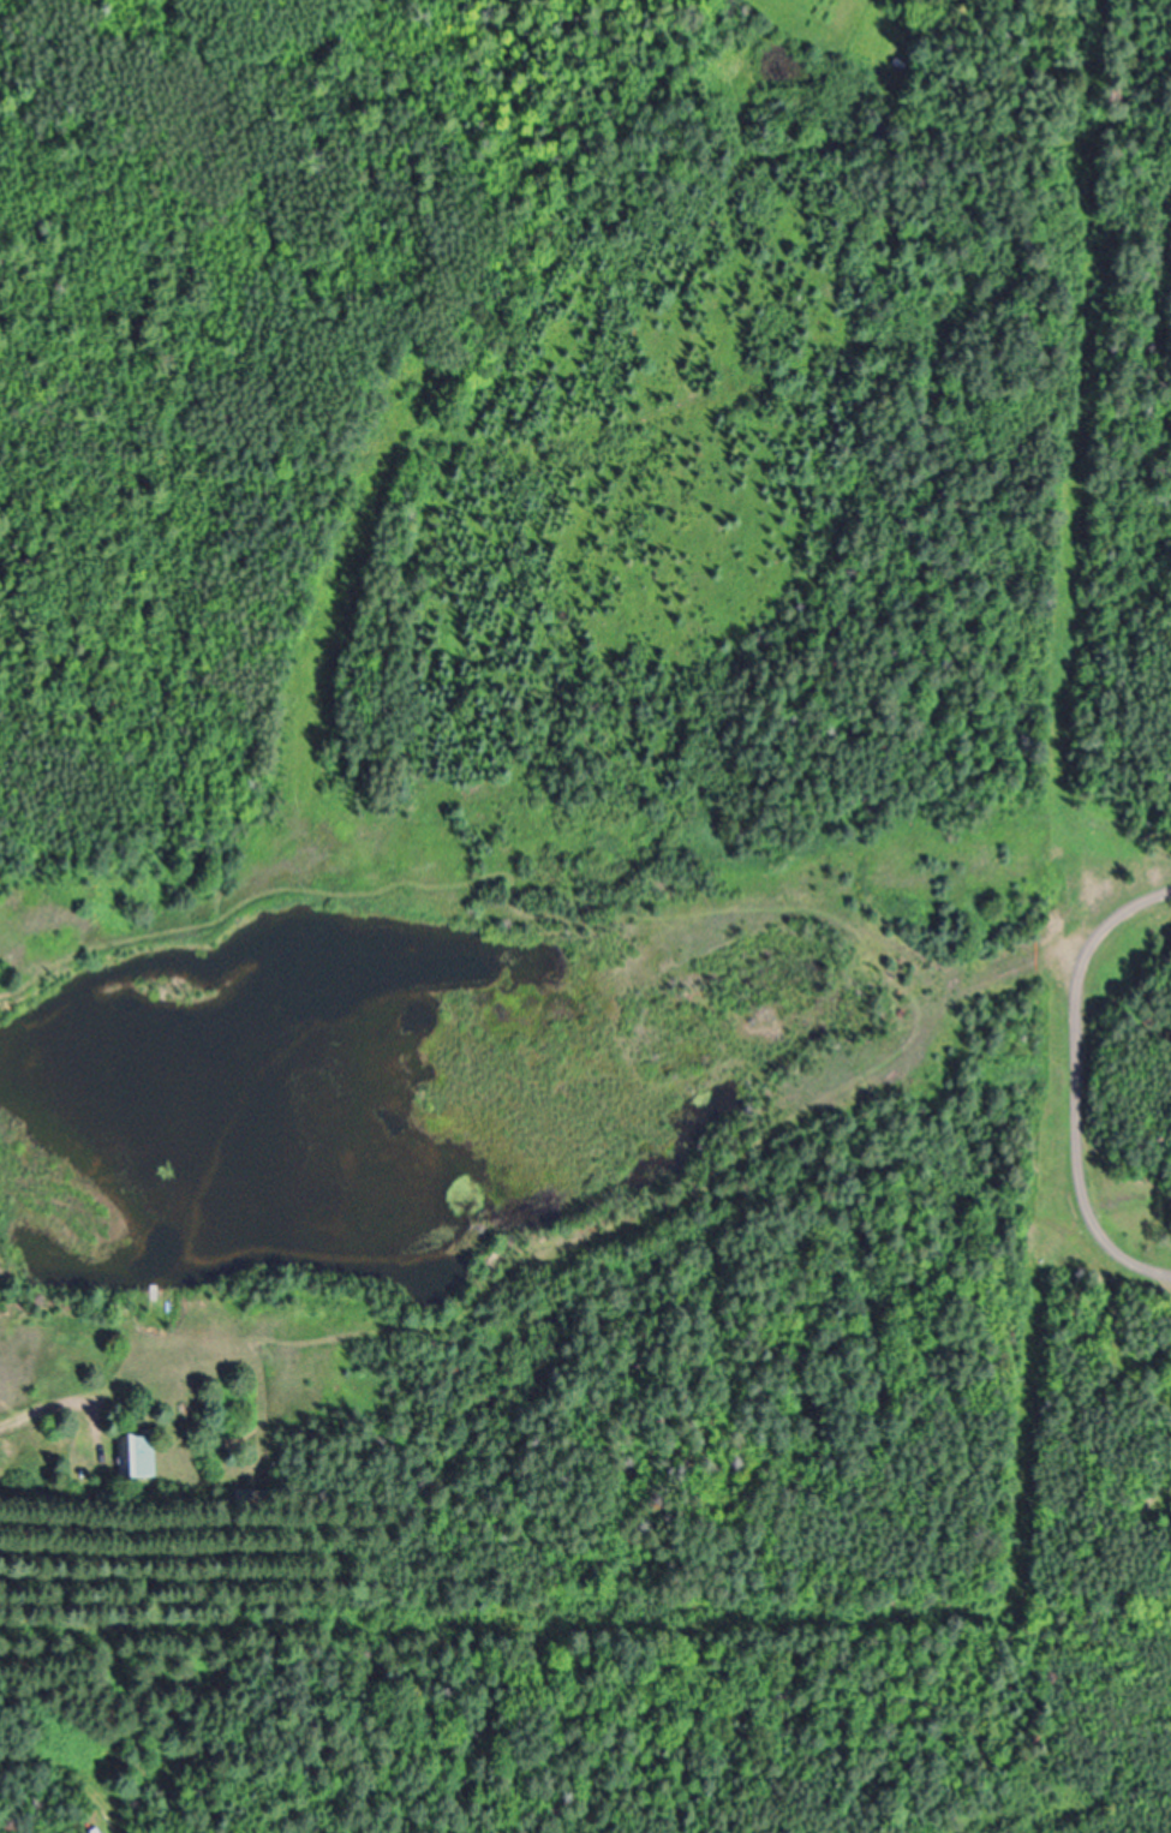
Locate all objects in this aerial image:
road: (1080, 1083)
road: (568, 1246)

